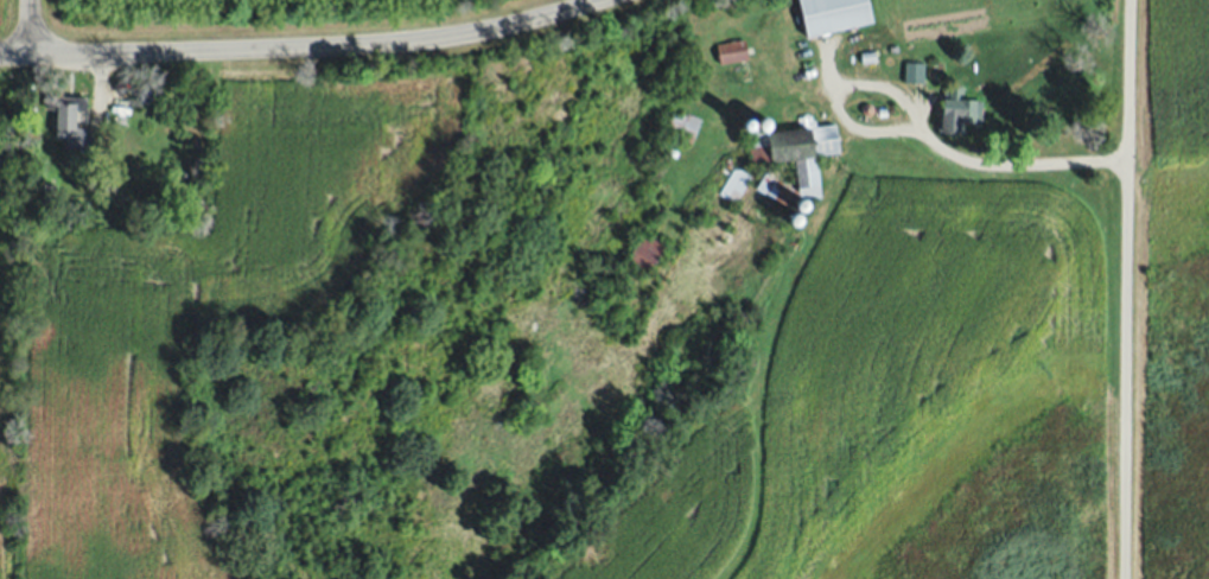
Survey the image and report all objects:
building: (833, 14)
road: (31, 28)
road: (303, 49)
building: (731, 50)
building: (867, 57)
road: (831, 61)
building: (912, 71)
building: (957, 108)
silo: (868, 109)
silo: (853, 110)
building: (71, 120)
road: (918, 121)
building: (682, 125)
building: (808, 178)
building: (32, 179)
building: (734, 183)
building: (52, 192)
building: (644, 250)
road: (1127, 288)

